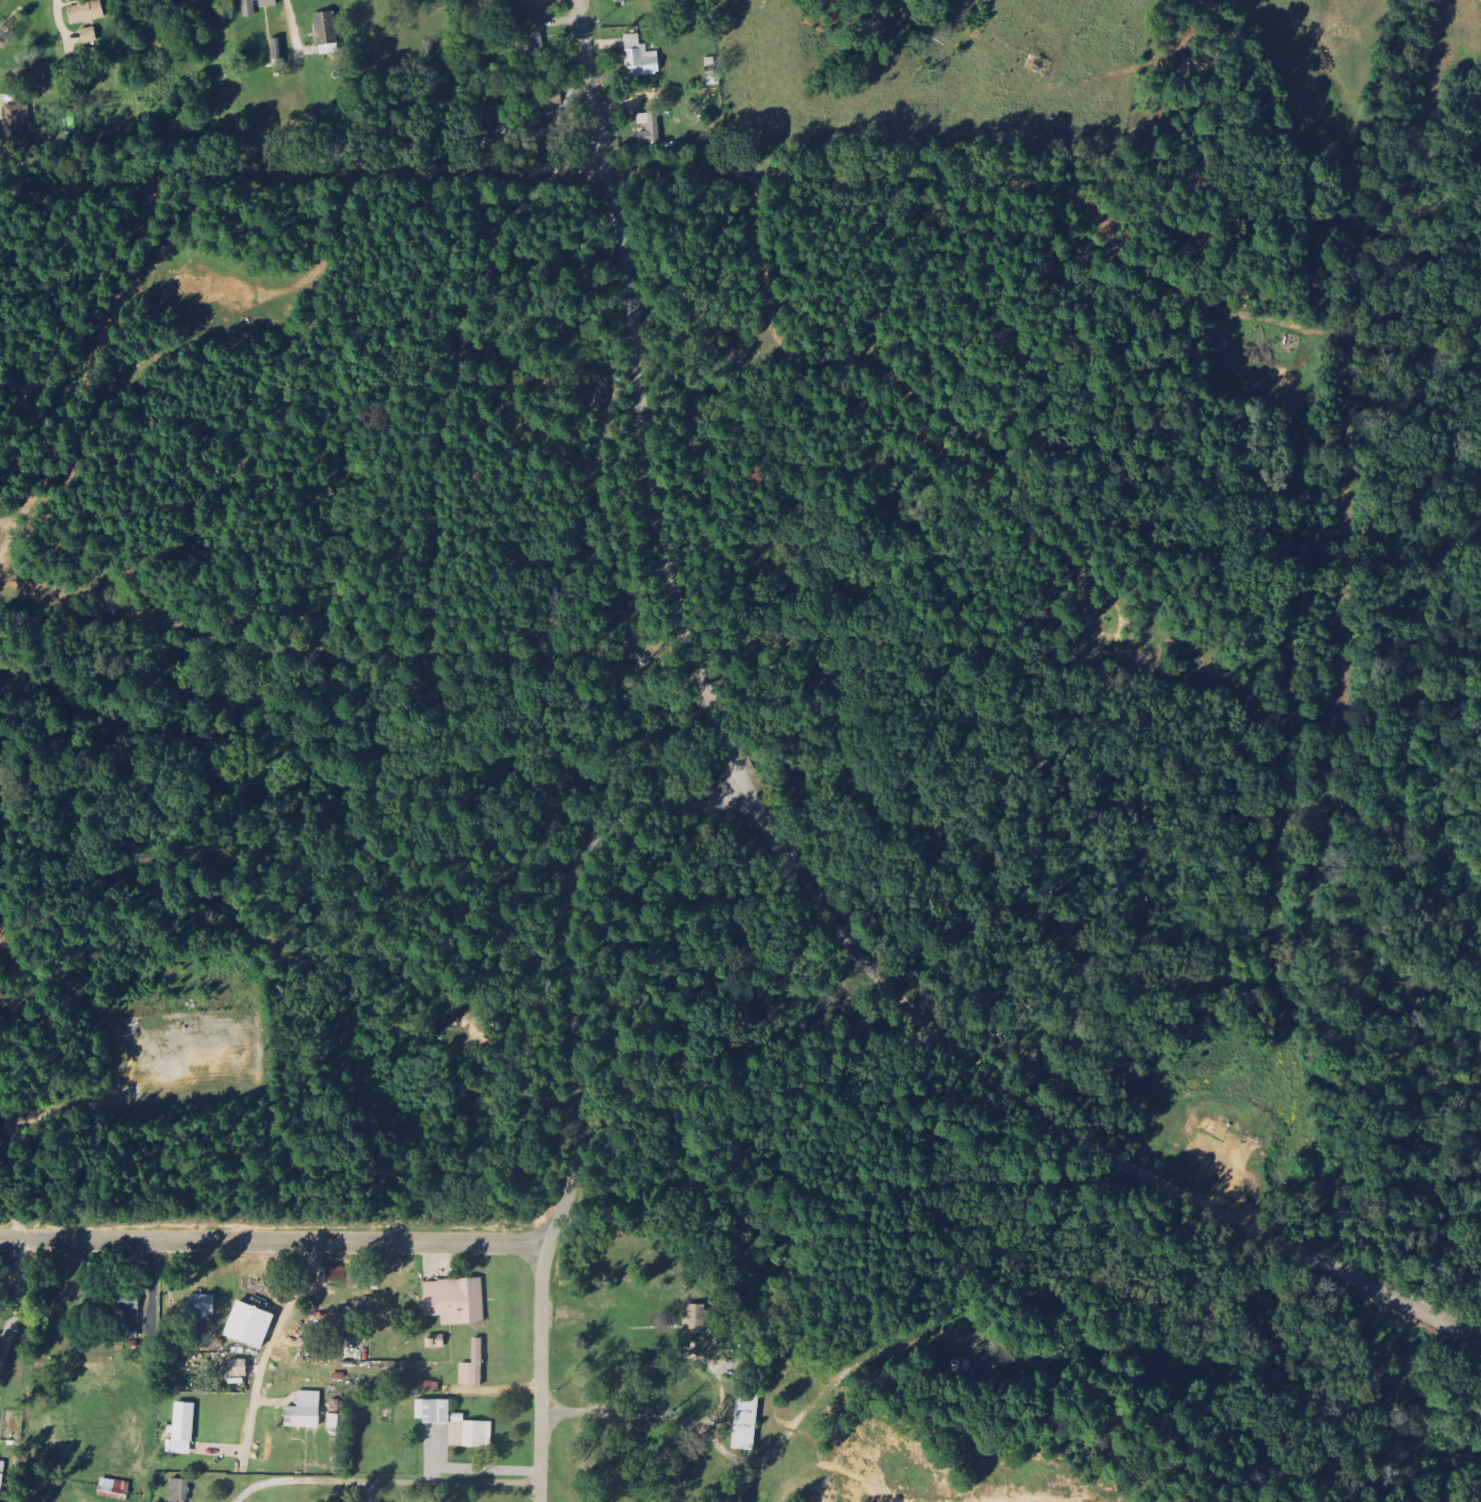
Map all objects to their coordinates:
building: (625, 1)
building: (528, 4)
building: (257, 6)
building: (87, 13)
building: (327, 34)
building: (90, 36)
building: (533, 37)
building: (641, 59)
building: (713, 79)
building: (548, 104)
building: (18, 127)
building: (505, 128)
building: (650, 128)
road: (680, 169)
road: (777, 848)
road: (575, 1086)
road: (274, 1241)
road: (18, 1299)
building: (456, 1301)
building: (204, 1305)
building: (696, 1319)
building: (251, 1325)
road: (269, 1344)
park: (14, 1364)
building: (474, 1367)
road: (718, 1407)
building: (305, 1411)
building: (747, 1419)
building: (456, 1424)
building: (182, 1430)
building: (2, 1478)
road: (385, 1481)
building: (115, 1490)
building: (180, 1490)

